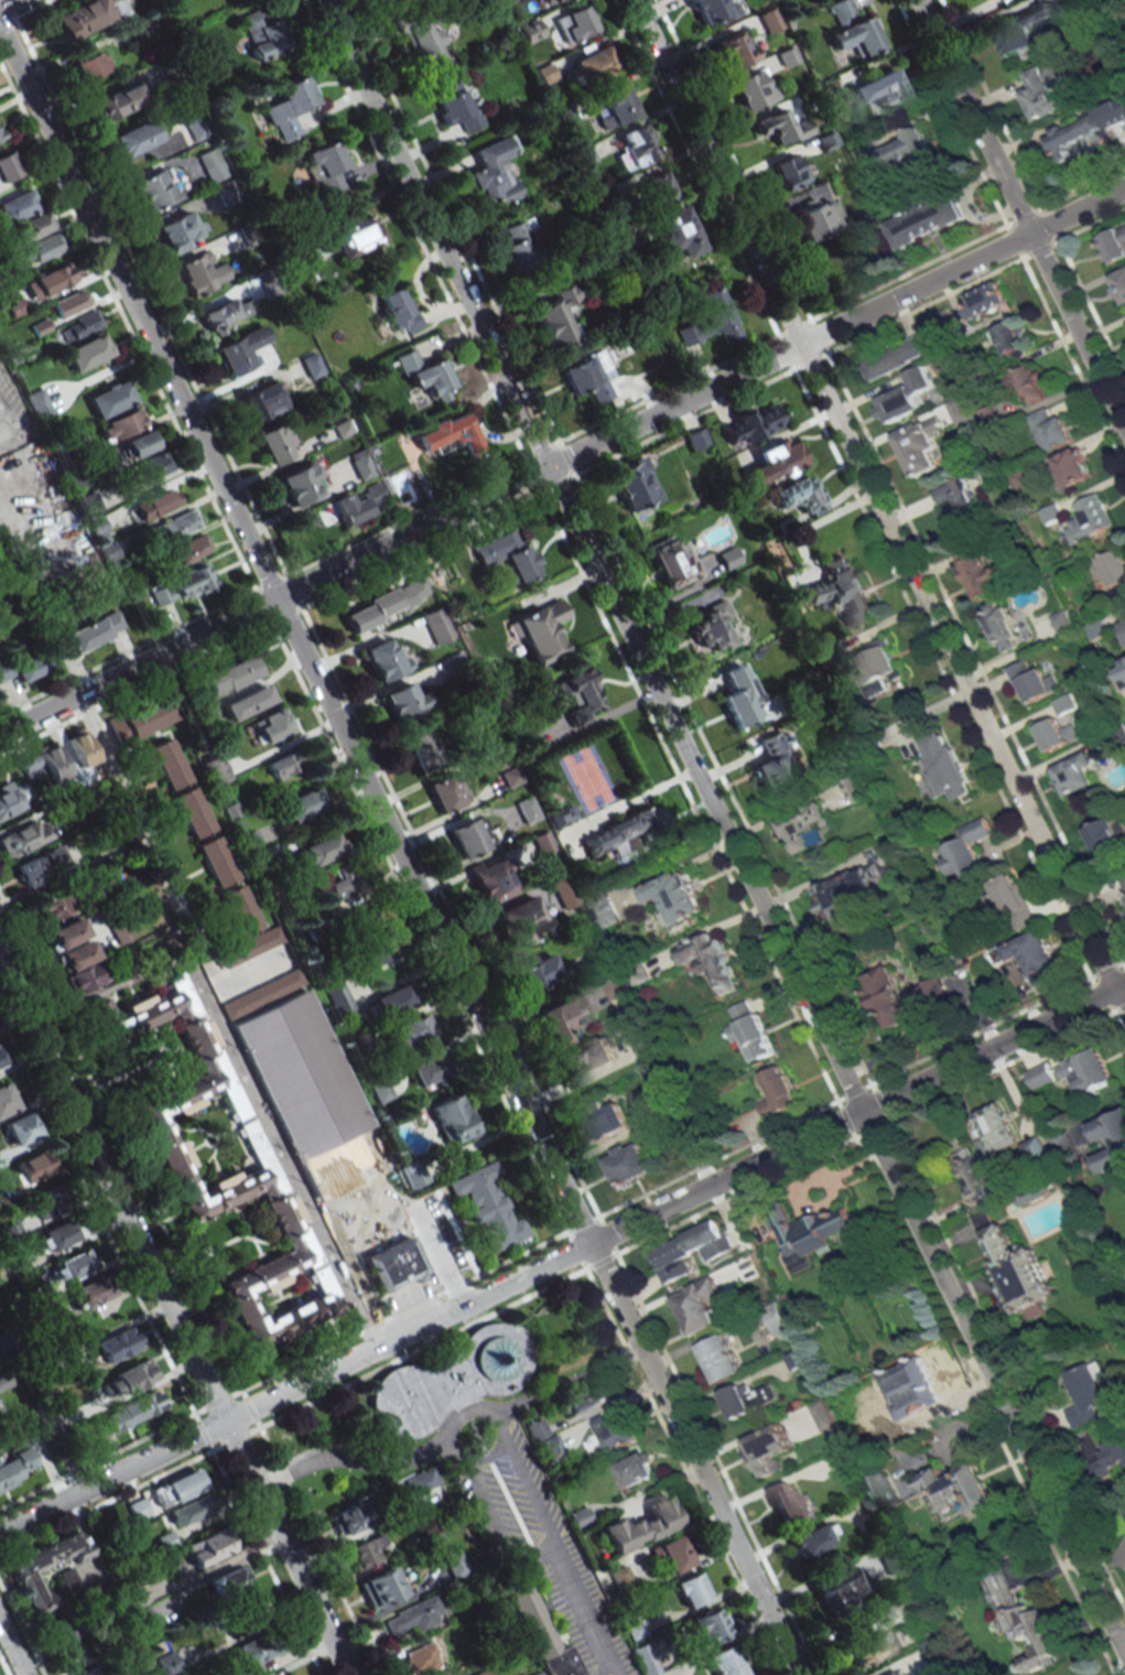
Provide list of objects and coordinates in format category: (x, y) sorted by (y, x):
building: (550, 1)
building: (713, 11)
building: (88, 15)
building: (769, 20)
building: (574, 23)
building: (1023, 29)
building: (530, 30)
building: (851, 30)
building: (262, 34)
building: (424, 39)
building: (734, 50)
building: (591, 63)
building: (88, 66)
building: (545, 74)
building: (750, 89)
building: (879, 89)
building: (1046, 91)
building: (118, 101)
building: (455, 106)
building: (615, 106)
building: (289, 107)
building: (194, 123)
building: (782, 127)
building: (1073, 134)
building: (0, 137)
building: (133, 138)
building: (825, 141)
building: (635, 147)
building: (908, 149)
building: (212, 164)
building: (7, 165)
building: (327, 169)
building: (789, 171)
building: (493, 172)
road: (33, 182)
building: (659, 187)
building: (151, 190)
building: (226, 193)
road: (1020, 215)
building: (815, 217)
building: (927, 218)
building: (35, 226)
building: (179, 231)
building: (677, 231)
building: (247, 235)
building: (347, 238)
building: (519, 245)
building: (1113, 245)
building: (40, 249)
building: (201, 271)
building: (55, 277)
building: (270, 283)
building: (1119, 284)
building: (984, 301)
building: (69, 304)
building: (398, 310)
building: (225, 314)
building: (556, 317)
building: (712, 321)
building: (79, 326)
building: (1009, 338)
building: (240, 350)
building: (87, 352)
building: (896, 356)
building: (311, 365)
building: (425, 376)
building: (589, 378)
building: (1030, 383)
building: (905, 397)
building: (110, 399)
building: (262, 401)
building: (39, 404)
building: (960, 410)
building: (988, 415)
building: (122, 424)
building: (751, 424)
building: (1050, 430)
building: (452, 433)
building: (696, 439)
building: (275, 443)
building: (139, 444)
building: (920, 445)
road: (562, 460)
building: (774, 462)
building: (360, 464)
building: (151, 466)
building: (1072, 466)
building: (301, 484)
road: (34, 485)
building: (631, 485)
road: (872, 494)
building: (799, 495)
building: (956, 500)
building: (156, 502)
building: (357, 504)
building: (88, 505)
building: (1090, 518)
building: (176, 526)
building: (192, 548)
building: (507, 553)
building: (728, 558)
building: (673, 564)
building: (977, 572)
building: (1113, 572)
building: (192, 581)
building: (842, 591)
building: (161, 594)
building: (383, 605)
building: (1062, 620)
building: (436, 625)
building: (708, 626)
building: (1000, 626)
building: (1123, 626)
building: (540, 631)
building: (87, 635)
building: (383, 660)
building: (454, 663)
building: (878, 667)
building: (21, 668)
building: (1122, 676)
building: (225, 677)
building: (1032, 681)
building: (576, 696)
building: (740, 696)
building: (247, 702)
building: (404, 702)
building: (1064, 703)
building: (148, 717)
building: (270, 725)
building: (1058, 734)
building: (80, 747)
building: (421, 749)
building: (53, 761)
building: (167, 764)
building: (29, 765)
building: (284, 765)
building: (944, 765)
building: (213, 769)
building: (775, 769)
building: (1077, 774)
building: (855, 788)
building: (445, 792)
building: (9, 799)
building: (300, 806)
building: (528, 809)
building: (192, 812)
building: (563, 815)
road: (723, 828)
building: (804, 828)
building: (629, 833)
building: (1107, 835)
building: (24, 836)
road: (143, 837)
building: (467, 837)
building: (251, 839)
building: (542, 842)
building: (320, 850)
building: (969, 851)
road: (399, 852)
building: (216, 862)
building: (41, 865)
building: (491, 880)
building: (344, 883)
building: (1122, 887)
building: (564, 891)
building: (674, 896)
building: (850, 896)
building: (1013, 900)
building: (53, 906)
building: (239, 910)
building: (605, 911)
building: (517, 917)
building: (120, 930)
building: (67, 933)
building: (250, 947)
building: (1038, 953)
building: (77, 955)
building: (371, 955)
building: (711, 961)
building: (536, 971)
building: (84, 977)
building: (185, 995)
building: (904, 997)
building: (338, 998)
road: (1118, 998)
building: (392, 1001)
building: (563, 1018)
building: (408, 1033)
building: (749, 1033)
building: (636, 1038)
building: (1, 1058)
building: (331, 1059)
building: (586, 1060)
building: (428, 1069)
building: (1086, 1071)
building: (1039, 1076)
building: (228, 1087)
road: (303, 1088)
building: (778, 1092)
building: (350, 1095)
road: (327, 1098)
building: (6, 1101)
building: (454, 1119)
building: (604, 1120)
building: (286, 1124)
building: (22, 1127)
road: (327, 1128)
building: (995, 1130)
building: (1062, 1141)
building: (1112, 1143)
road: (359, 1153)
building: (263, 1157)
building: (628, 1164)
building: (34, 1166)
road: (325, 1169)
building: (176, 1171)
building: (413, 1174)
building: (974, 1176)
road: (357, 1195)
building: (487, 1209)
building: (807, 1233)
building: (55, 1235)
road: (426, 1236)
building: (306, 1247)
building: (689, 1251)
road: (562, 1254)
building: (388, 1255)
building: (69, 1266)
building: (1016, 1268)
road: (355, 1273)
building: (324, 1284)
building: (91, 1292)
building: (700, 1306)
road: (174, 1317)
building: (778, 1322)
building: (118, 1344)
building: (718, 1359)
building: (134, 1375)
building: (3, 1380)
building: (450, 1382)
road: (567, 1383)
building: (1088, 1394)
building: (588, 1397)
building: (747, 1398)
building: (144, 1405)
building: (821, 1414)
building: (537, 1429)
building: (614, 1431)
road: (500, 1445)
building: (768, 1449)
building: (1112, 1452)
road: (351, 1461)
building: (15, 1466)
building: (636, 1469)
building: (955, 1487)
building: (176, 1488)
building: (424, 1488)
building: (884, 1491)
building: (787, 1502)
building: (138, 1509)
building: (191, 1510)
building: (580, 1517)
building: (347, 1520)
building: (641, 1525)
building: (433, 1534)
building: (813, 1539)
building: (208, 1547)
road: (534, 1549)
building: (367, 1550)
building: (675, 1553)
building: (455, 1561)
building: (79, 1576)
building: (230, 1584)
building: (381, 1587)
building: (839, 1587)
building: (691, 1590)
road: (582, 1609)
building: (415, 1615)
building: (530, 1615)
building: (145, 1625)
building: (1027, 1625)
building: (710, 1627)
building: (64, 1631)
building: (862, 1642)
road: (11, 1650)
building: (255, 1653)
building: (77, 1655)
building: (937, 1656)
building: (647, 1658)
building: (421, 1660)
building: (725, 1662)
building: (560, 1663)
building: (169, 1664)
building: (93, 1672)
road: (606, 1672)
building: (150, 1673)
building: (484, 1673)
building: (895, 1673)
building: (442, 1674)
building: (539, 1674)

